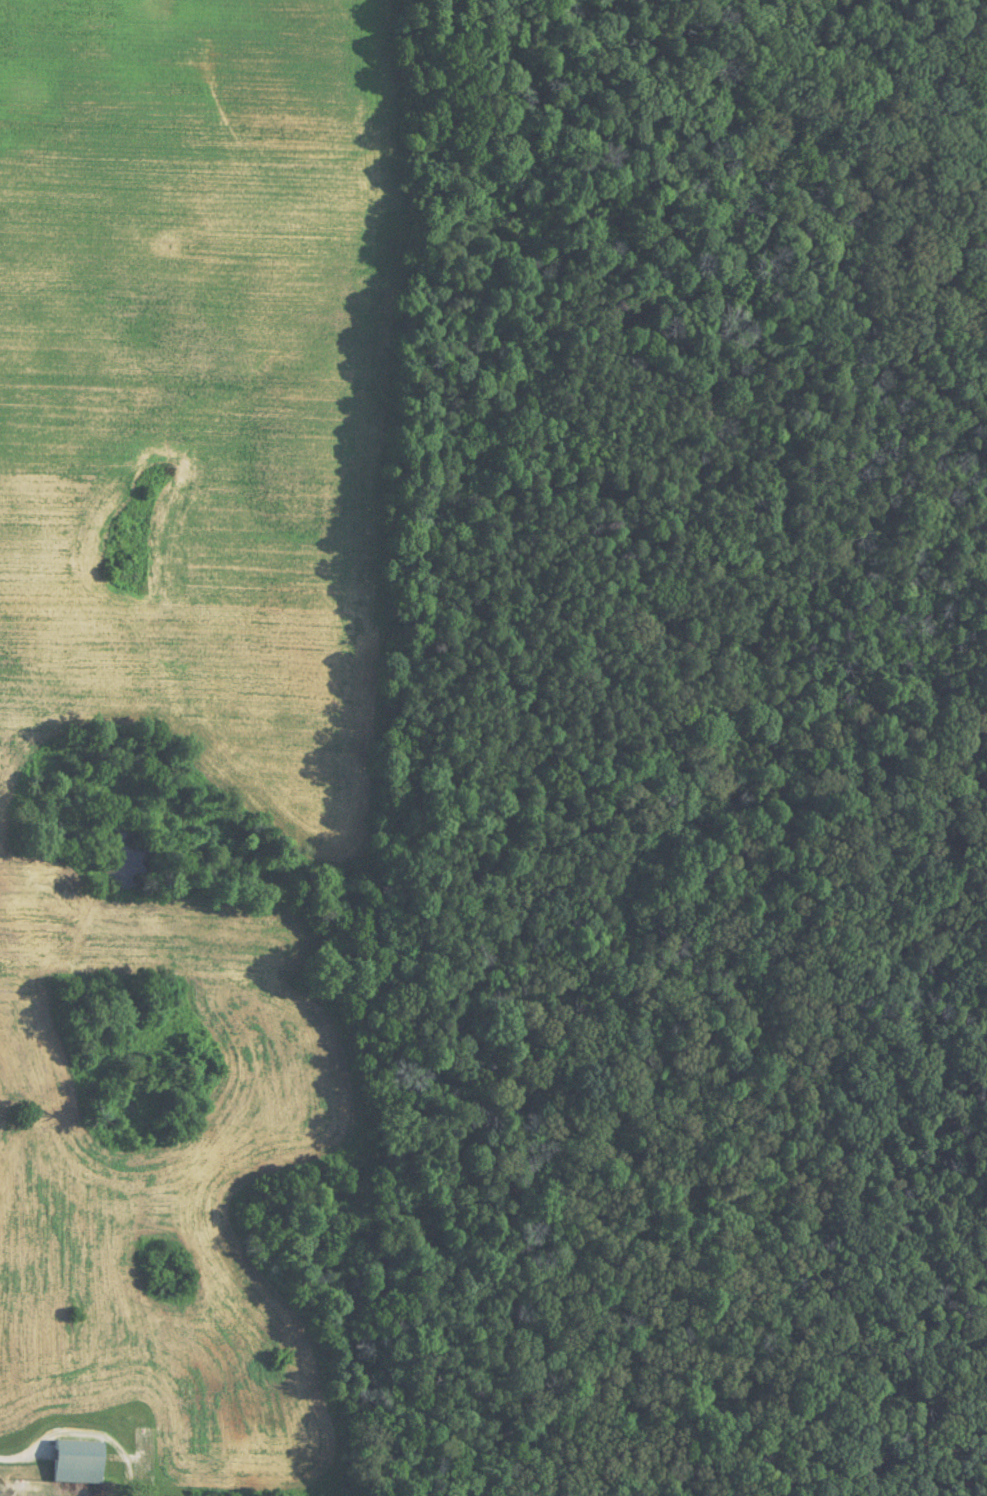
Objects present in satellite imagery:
building: (69, 1460)

